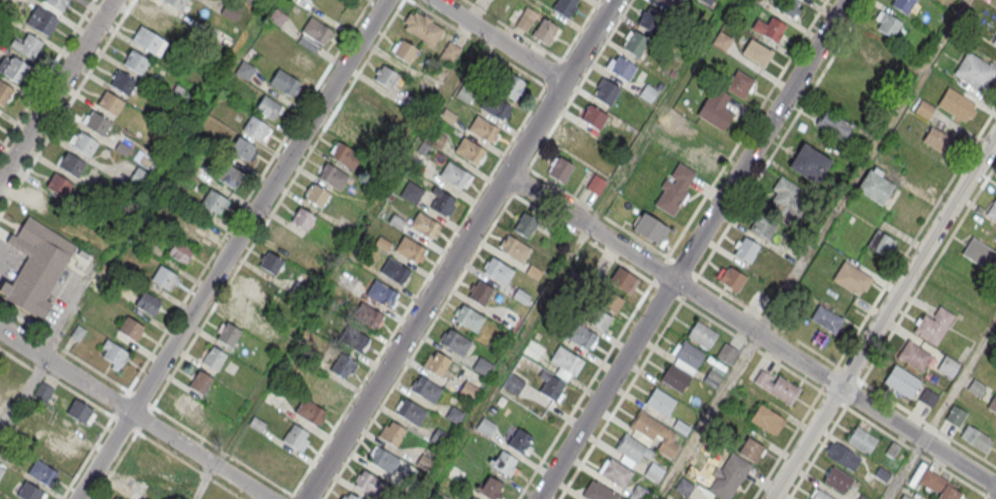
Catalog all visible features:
building: (6, 0)
building: (758, 0)
building: (295, 1)
building: (670, 3)
building: (58, 4)
building: (176, 4)
building: (903, 4)
building: (564, 6)
building: (786, 6)
building: (231, 10)
building: (277, 16)
building: (525, 19)
building: (162, 20)
building: (650, 20)
building: (42, 21)
building: (887, 23)
building: (423, 27)
building: (770, 28)
building: (317, 31)
building: (546, 31)
building: (149, 40)
road: (498, 40)
building: (722, 40)
building: (994, 40)
building: (636, 44)
building: (27, 46)
building: (873, 47)
building: (404, 51)
building: (451, 52)
building: (757, 52)
building: (299, 55)
building: (136, 62)
building: (621, 68)
building: (244, 70)
building: (975, 72)
road: (46, 74)
building: (386, 76)
building: (283, 82)
building: (123, 83)
building: (740, 83)
building: (511, 86)
road: (56, 90)
building: (606, 92)
building: (5, 93)
building: (370, 101)
building: (110, 103)
building: (411, 104)
building: (956, 104)
road: (66, 107)
building: (495, 107)
building: (268, 108)
building: (716, 108)
building: (924, 109)
building: (594, 117)
building: (97, 124)
building: (834, 124)
building: (354, 127)
building: (256, 129)
building: (483, 129)
building: (575, 139)
building: (937, 139)
building: (84, 144)
building: (242, 149)
building: (469, 150)
road: (774, 150)
building: (345, 155)
building: (699, 161)
building: (808, 163)
building: (71, 165)
building: (560, 169)
building: (228, 175)
building: (455, 175)
building: (332, 176)
building: (139, 179)
building: (595, 184)
building: (59, 185)
building: (874, 187)
building: (674, 189)
road: (561, 190)
building: (411, 193)
building: (317, 195)
building: (788, 199)
building: (214, 201)
building: (442, 203)
building: (46, 205)
building: (992, 211)
road: (270, 215)
building: (303, 218)
building: (525, 224)
building: (424, 225)
building: (198, 227)
building: (762, 227)
building: (649, 228)
road: (582, 238)
building: (285, 239)
building: (881, 244)
road: (445, 247)
road: (231, 249)
building: (410, 249)
road: (459, 249)
building: (515, 249)
road: (691, 249)
building: (746, 249)
building: (180, 251)
building: (980, 254)
road: (669, 259)
parking lot: (10, 261)
building: (272, 263)
building: (36, 265)
building: (394, 271)
building: (497, 271)
building: (164, 277)
building: (731, 277)
building: (851, 278)
building: (623, 280)
building: (255, 286)
road: (920, 286)
building: (480, 292)
building: (382, 293)
building: (609, 301)
building: (759, 301)
building: (147, 302)
building: (243, 310)
building: (369, 316)
road: (882, 316)
building: (510, 317)
road: (706, 317)
building: (826, 318)
building: (468, 319)
building: (598, 319)
building: (933, 326)
building: (131, 328)
road: (750, 330)
building: (228, 334)
building: (701, 335)
building: (581, 336)
building: (272, 337)
building: (356, 339)
building: (455, 343)
road: (64, 348)
building: (727, 352)
building: (688, 355)
building: (914, 356)
building: (214, 358)
building: (566, 361)
building: (436, 362)
building: (342, 366)
building: (482, 367)
building: (947, 367)
road: (594, 376)
building: (674, 378)
building: (712, 378)
building: (901, 381)
building: (201, 382)
building: (513, 384)
building: (550, 384)
building: (777, 386)
building: (325, 388)
building: (427, 389)
road: (69, 390)
building: (467, 390)
building: (42, 392)
building: (928, 397)
building: (659, 402)
building: (992, 404)
building: (186, 405)
road: (941, 410)
building: (310, 411)
building: (79, 412)
road: (133, 414)
building: (413, 414)
building: (454, 415)
building: (955, 415)
road: (706, 416)
building: (767, 419)
building: (485, 427)
building: (67, 431)
building: (391, 432)
building: (655, 432)
building: (297, 437)
building: (440, 438)
building: (976, 438)
building: (861, 440)
building: (519, 442)
building: (632, 447)
building: (750, 448)
building: (891, 449)
building: (56, 450)
road: (123, 452)
road: (914, 452)
road: (816, 453)
building: (842, 456)
road: (178, 457)
building: (150, 462)
building: (387, 462)
building: (504, 463)
building: (1, 471)
building: (41, 472)
building: (654, 472)
building: (615, 473)
building: (883, 475)
building: (728, 476)
building: (837, 479)
building: (368, 484)
building: (938, 485)
building: (136, 486)
building: (684, 487)
building: (491, 488)
building: (29, 492)
building: (639, 492)
building: (601, 493)
building: (819, 495)
road: (986, 496)
building: (350, 497)
building: (862, 497)
building: (904, 497)
building: (11, 498)
building: (117, 498)
building: (472, 498)

